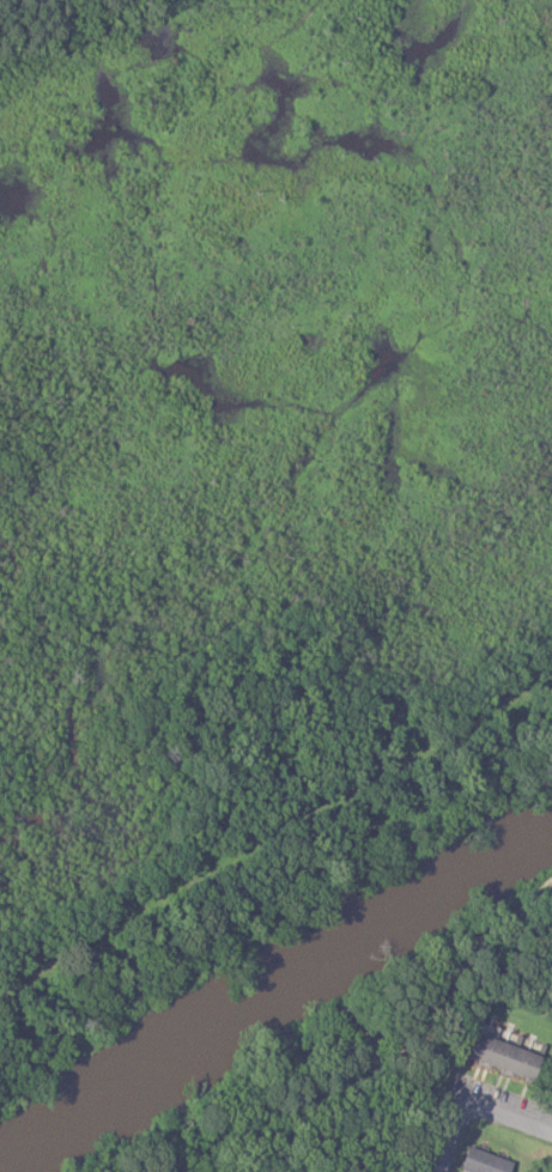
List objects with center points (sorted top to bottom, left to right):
river: (275, 980)
building: (504, 1051)
building: (551, 1086)
road: (503, 1112)
road: (455, 1136)
building: (485, 1161)

